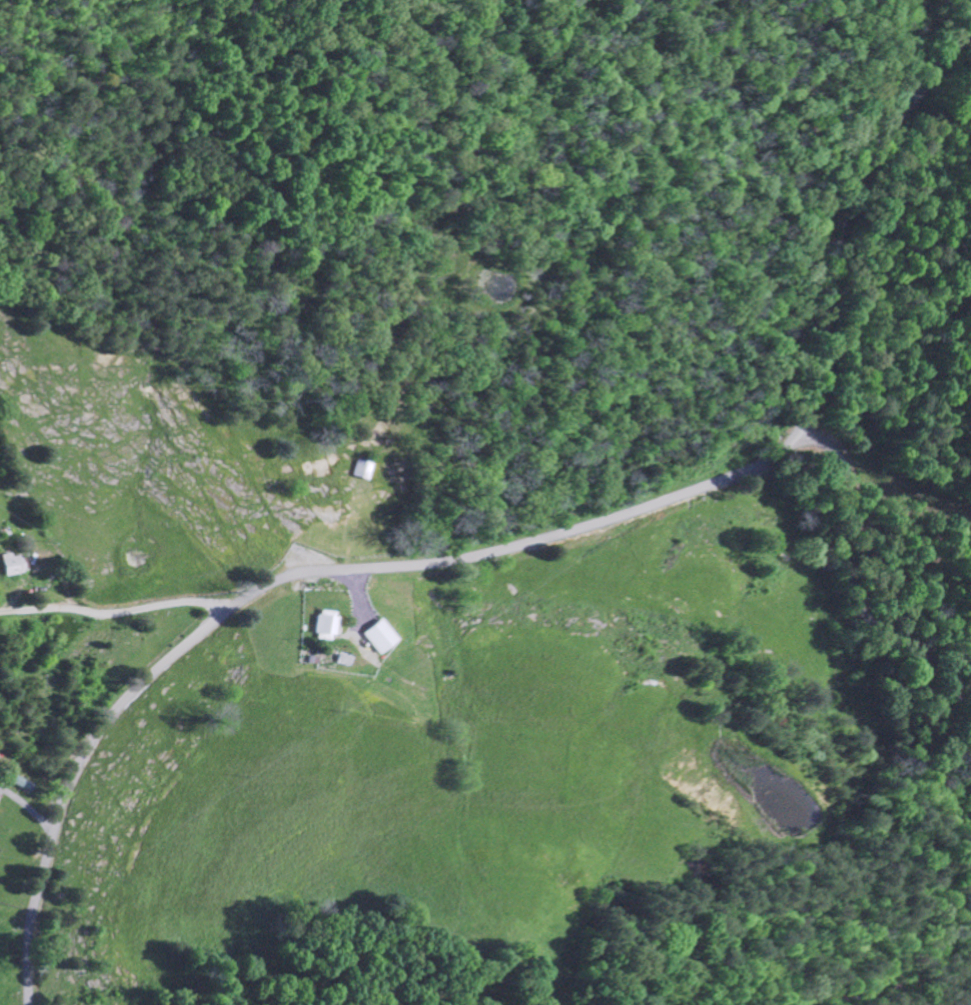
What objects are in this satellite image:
building: (359, 468)
road: (511, 546)
building: (9, 563)
road: (849, 579)
building: (321, 626)
building: (376, 635)
building: (969, 641)

